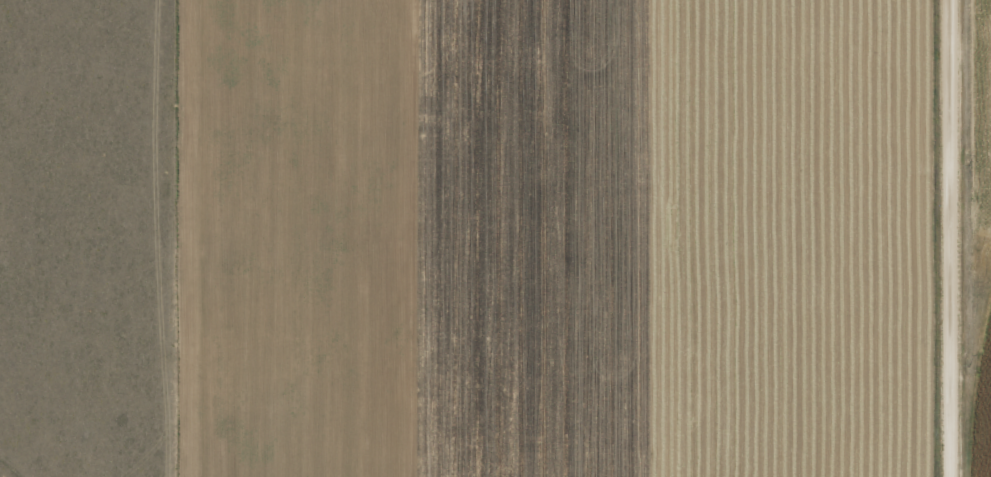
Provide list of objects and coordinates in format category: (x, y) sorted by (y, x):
road: (954, 238)

